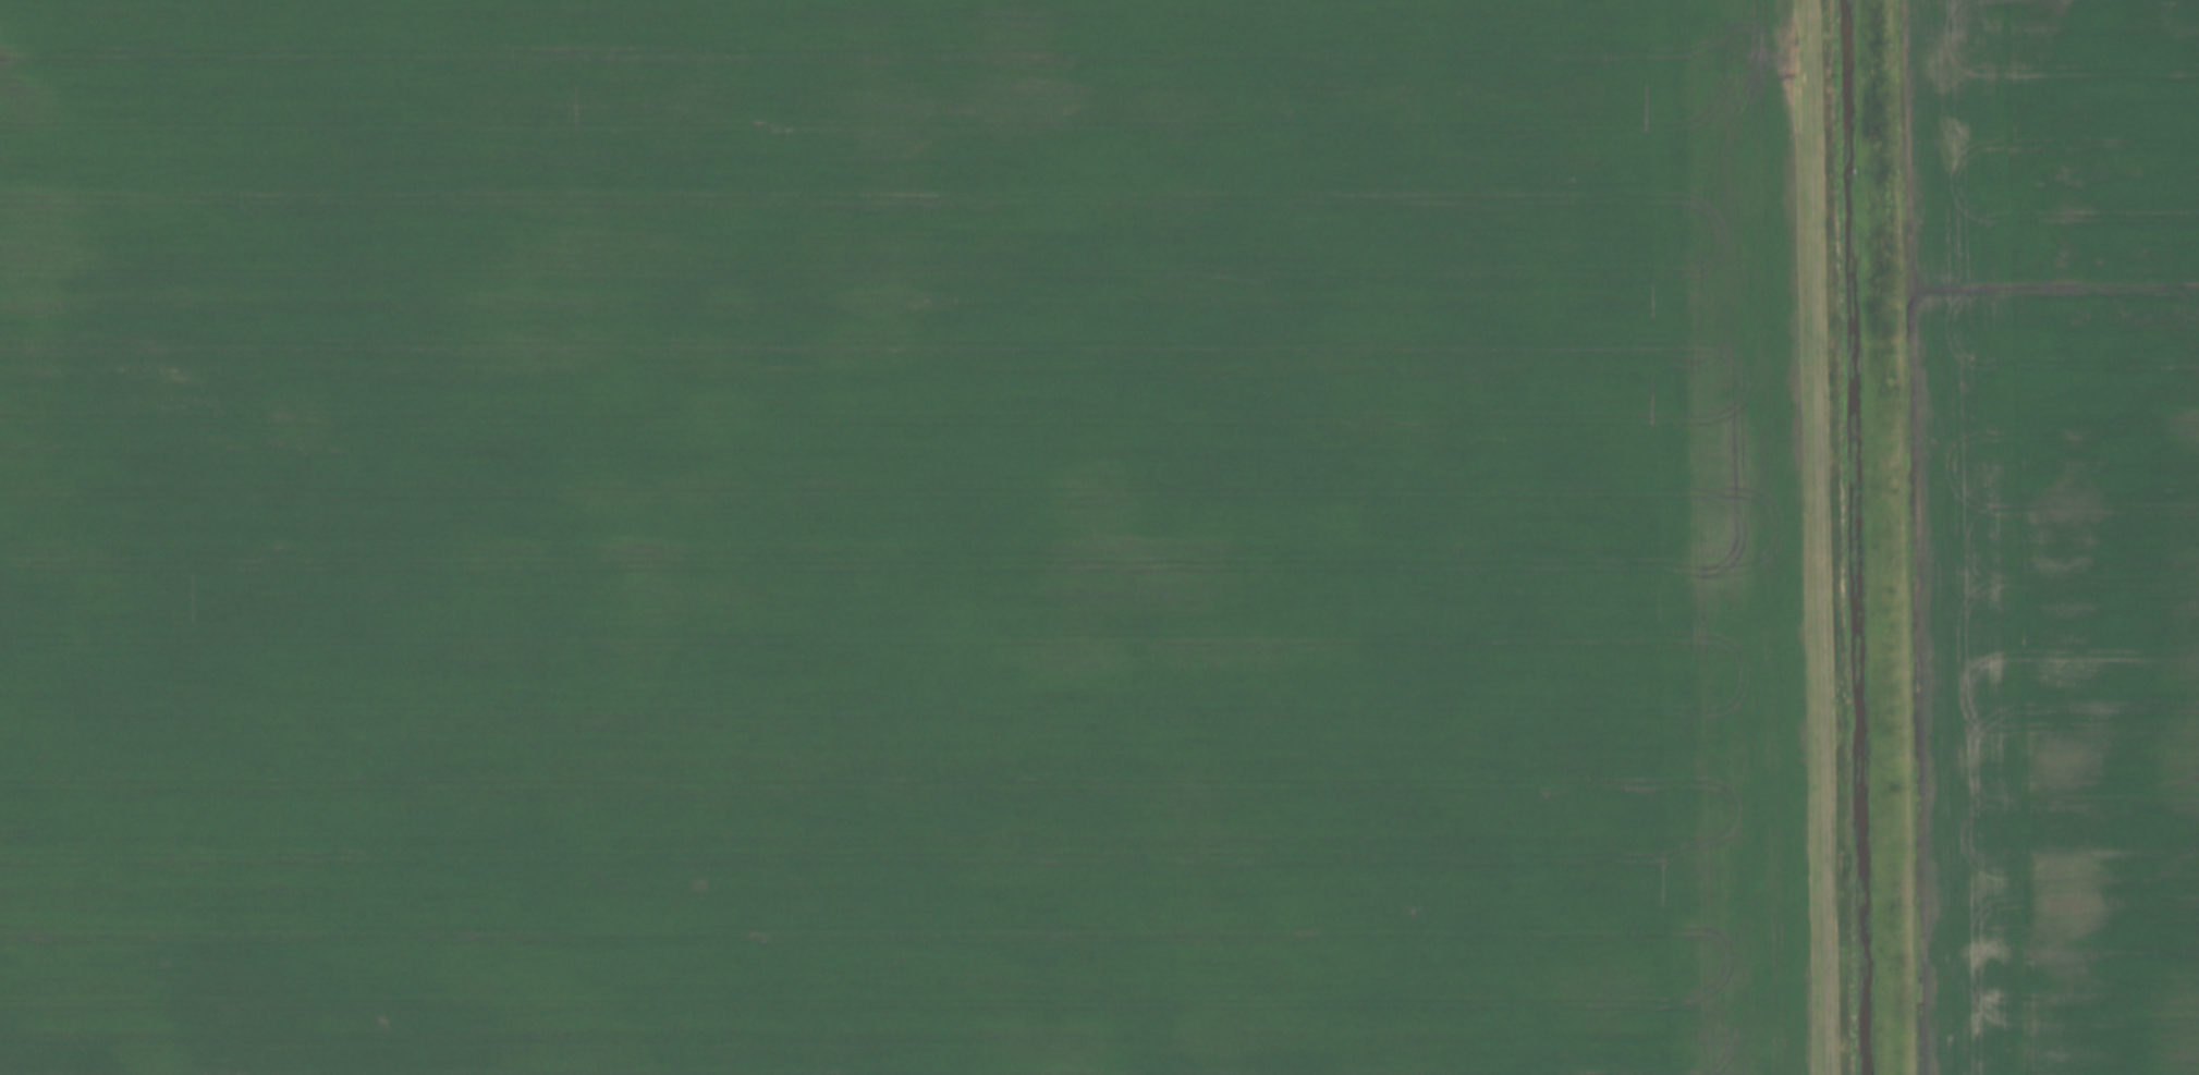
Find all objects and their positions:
road: (1823, 537)

